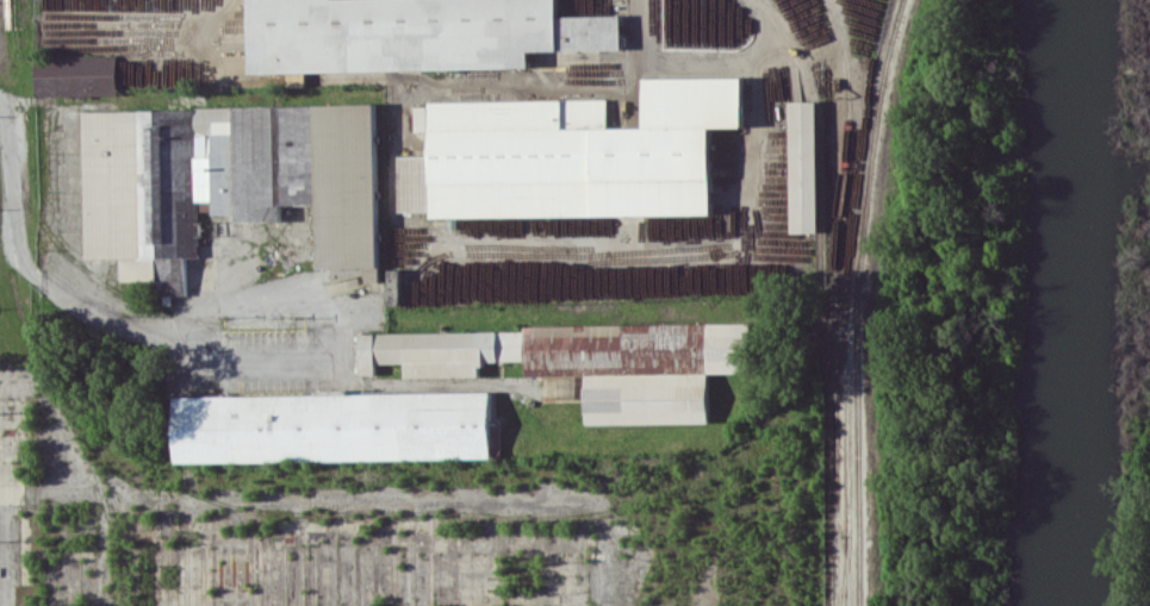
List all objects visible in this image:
building: (412, 33)
railway: (794, 45)
building: (77, 75)
building: (562, 155)
building: (804, 165)
railway: (816, 165)
building: (226, 182)
road: (715, 251)
railway: (834, 300)
railway: (857, 300)
road: (92, 317)
railway: (822, 329)
building: (586, 360)
building: (331, 427)
building: (497, 439)
railway: (846, 441)
park: (1133, 511)
railway: (844, 569)

